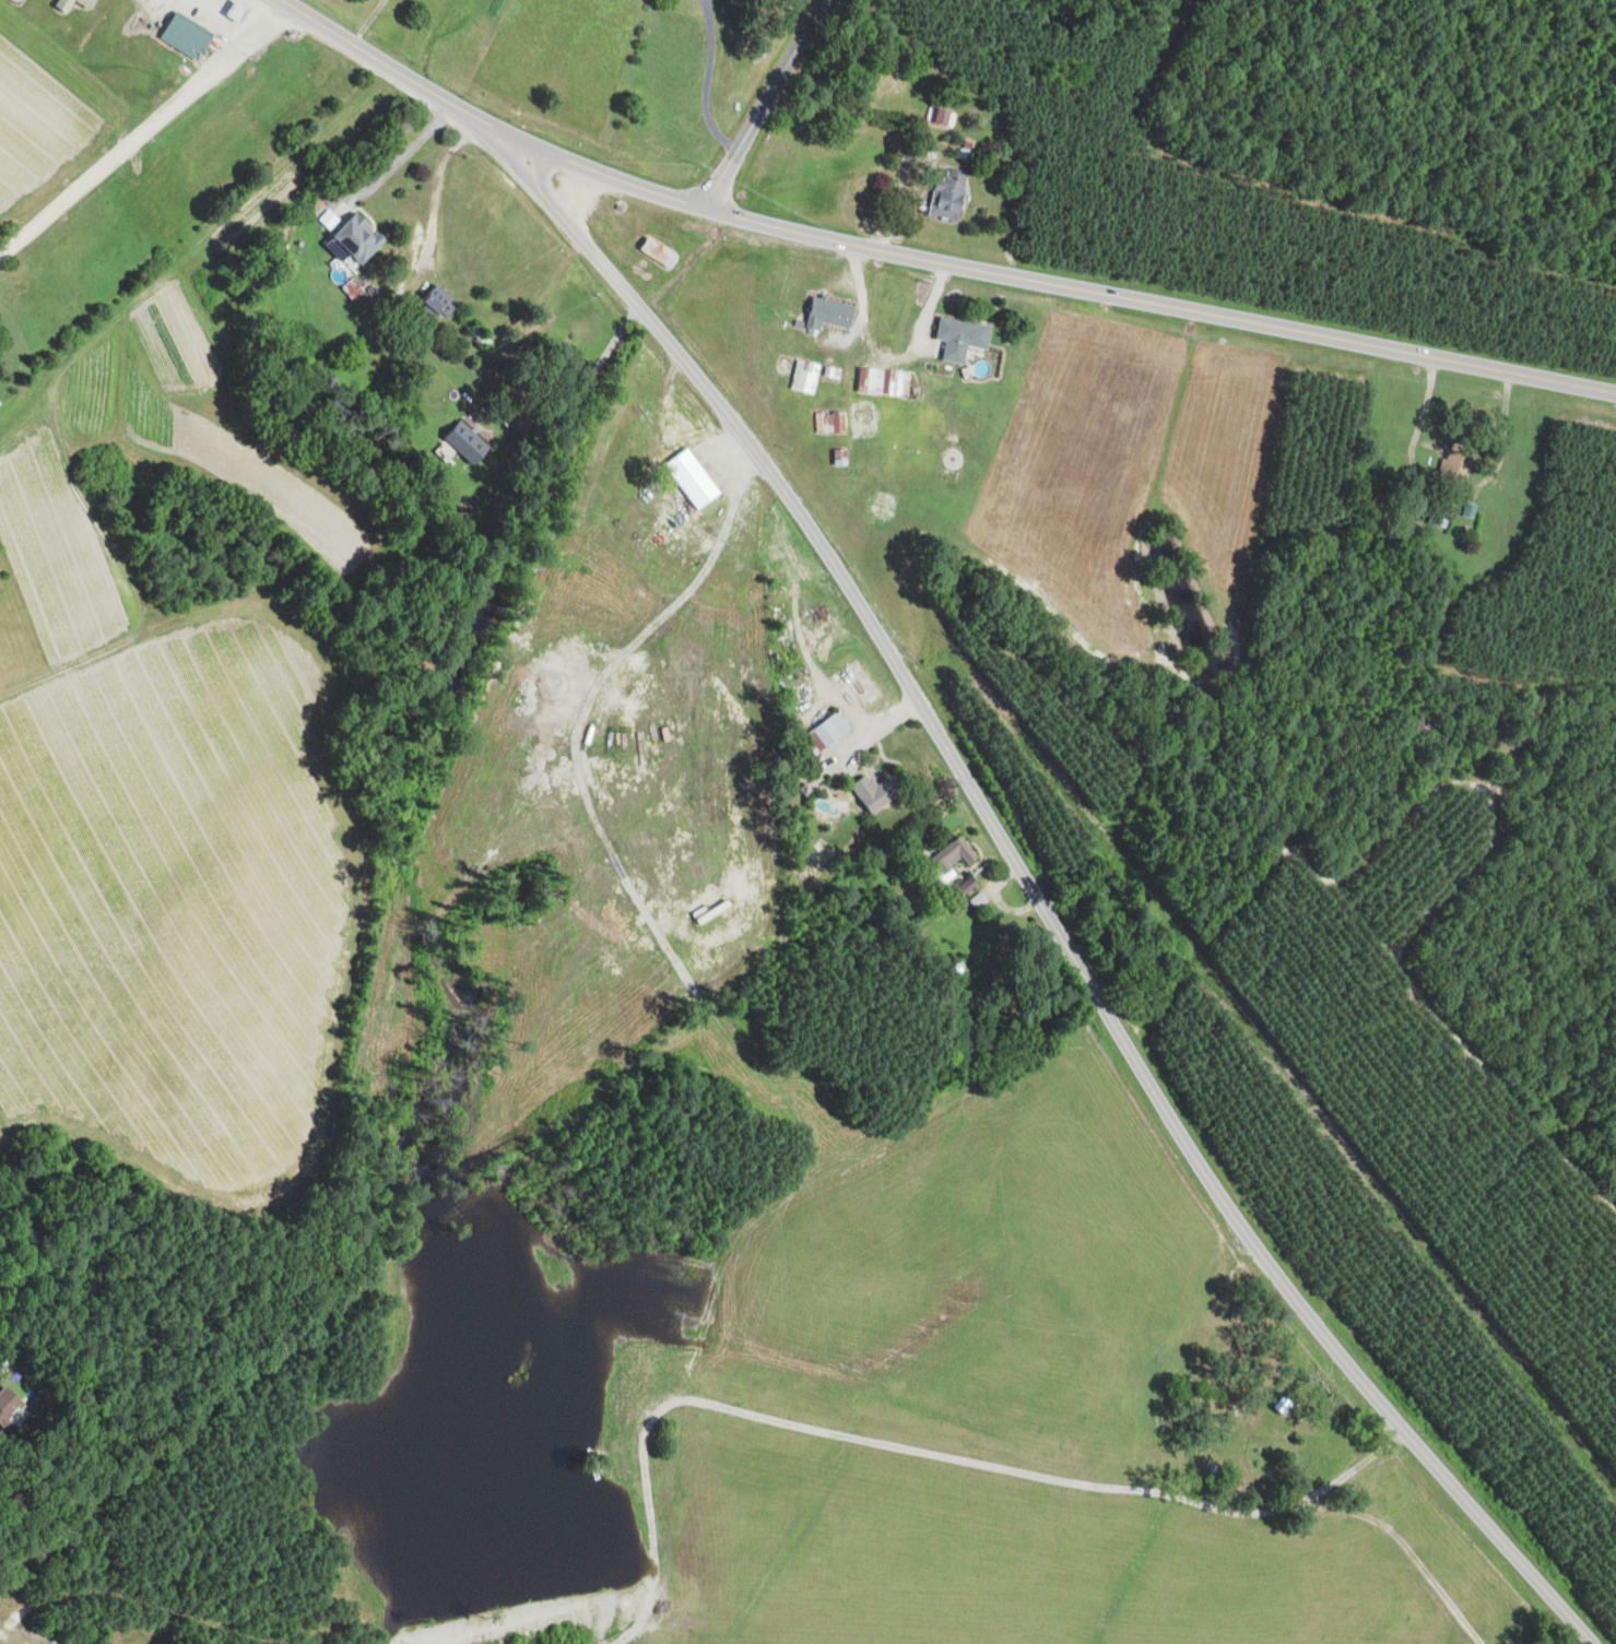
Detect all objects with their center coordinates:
building: (94, 0)
road: (194, 1)
building: (13, 2)
building: (69, 4)
building: (232, 13)
road: (249, 13)
road: (215, 15)
road: (243, 35)
building: (182, 36)
road: (378, 60)
road: (705, 80)
road: (762, 104)
building: (733, 106)
building: (939, 118)
road: (144, 130)
road: (502, 132)
crop: (39, 137)
road: (398, 161)
road: (433, 193)
building: (944, 194)
building: (346, 235)
building: (653, 252)
road: (1066, 285)
building: (350, 289)
building: (332, 296)
building: (430, 306)
building: (824, 314)
building: (477, 333)
building: (957, 338)
building: (401, 346)
building: (801, 377)
building: (896, 386)
road: (669, 393)
road: (574, 399)
building: (860, 418)
building: (838, 422)
building: (462, 443)
road: (728, 456)
building: (1456, 462)
building: (687, 480)
road: (842, 708)
road: (872, 732)
building: (823, 733)
building: (801, 788)
building: (871, 790)
crop: (169, 793)
building: (947, 859)
road: (1003, 880)
building: (963, 886)
building: (975, 899)
road: (1040, 904)
building: (954, 970)
crop: (975, 1282)
building: (1212, 1321)
road: (1254, 1369)
building: (1276, 1406)
building: (10, 1412)
road: (880, 1443)
building: (1178, 1466)
road: (1344, 1477)
building: (1225, 1481)
road: (1248, 1482)
crop: (1442, 1542)
crop: (986, 1556)
road: (125, 1599)
road: (602, 1624)
crop: (1, 1643)

